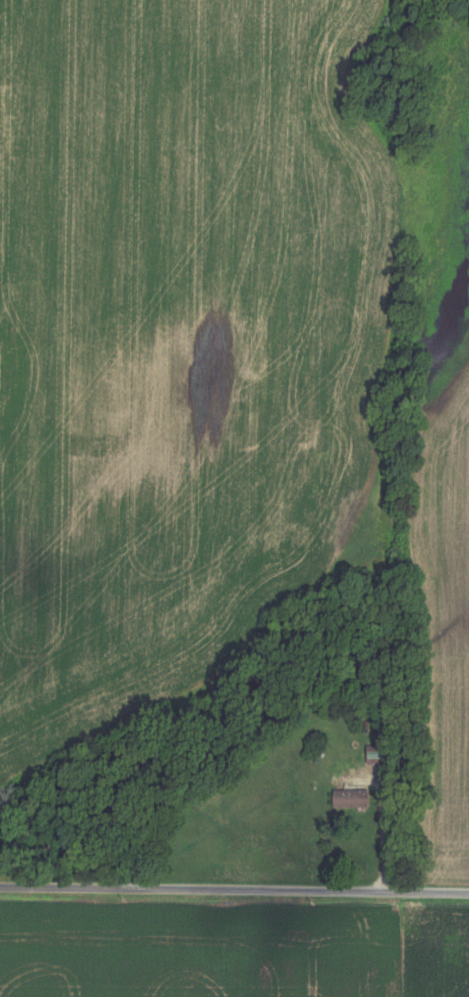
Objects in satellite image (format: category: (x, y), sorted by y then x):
building: (373, 755)
building: (347, 798)
road: (234, 891)

